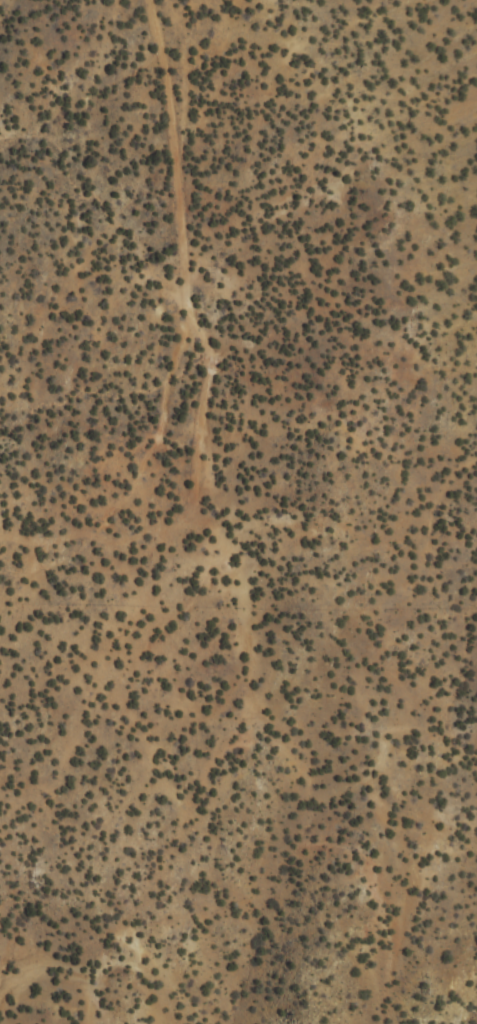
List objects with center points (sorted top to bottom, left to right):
road: (197, 266)

